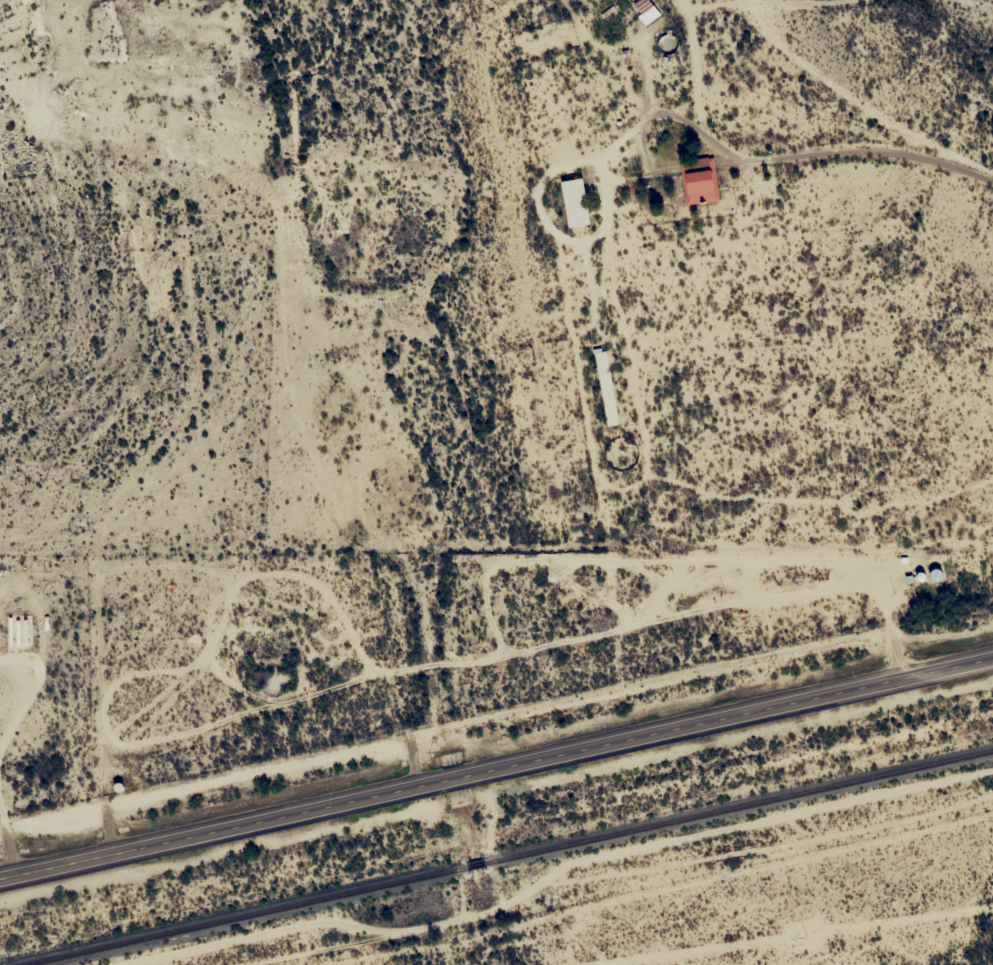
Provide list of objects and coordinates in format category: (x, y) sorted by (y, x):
road: (815, 7)
road: (966, 14)
building: (698, 180)
building: (572, 202)
building: (605, 393)
road: (496, 767)
railway: (501, 856)

